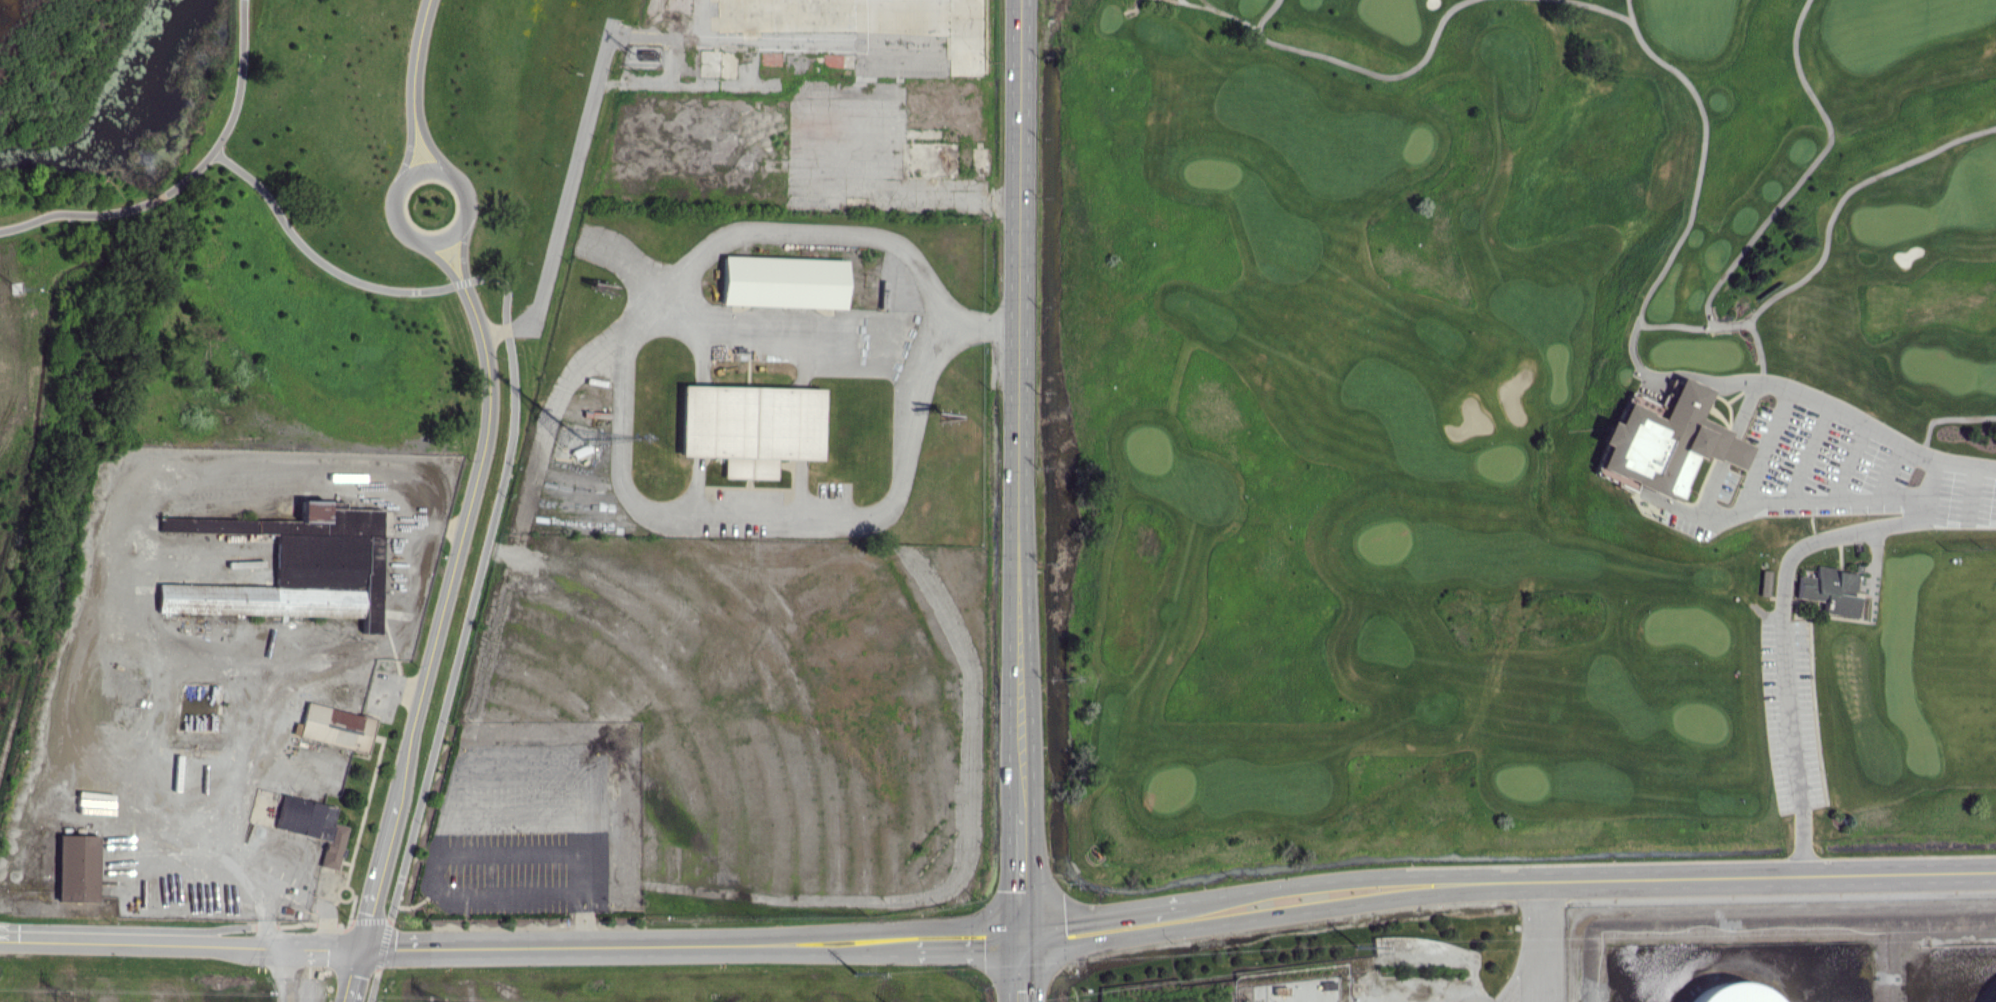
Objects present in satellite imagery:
road: (1198, 4)
road: (1208, 5)
road: (1602, 8)
road: (1235, 17)
road: (414, 50)
road: (1355, 67)
road: (427, 140)
road: (407, 147)
road: (1812, 171)
road: (185, 177)
road: (1843, 189)
road: (566, 196)
road: (441, 239)
road: (1675, 248)
road: (462, 251)
road: (312, 253)
road: (441, 261)
road: (461, 280)
building: (781, 281)
road: (1727, 324)
road: (618, 400)
road: (1022, 406)
road: (1950, 418)
building: (748, 426)
park: (1513, 433)
building: (1665, 443)
road: (1735, 443)
road: (1771, 449)
road: (1815, 454)
road: (1855, 462)
parking lot: (1811, 463)
road: (1899, 472)
road: (1976, 496)
parking lot: (1969, 500)
road: (130, 562)
building: (294, 567)
building: (1769, 583)
road: (474, 585)
building: (1835, 586)
road: (444, 602)
road: (1788, 618)
road: (290, 677)
railway: (19, 696)
parking lot: (1791, 712)
building: (335, 727)
building: (312, 826)
road: (463, 852)
building: (76, 867)
road: (1021, 877)
road: (1590, 884)
road: (305, 897)
road: (369, 918)
road: (307, 921)
road: (129, 927)
road: (1104, 928)
road: (365, 934)
traffic signals: (1021, 940)
road: (965, 943)
road: (180, 944)
road: (1538, 944)
road: (382, 945)
road: (634, 947)
power tower: (1355, 950)
road: (1021, 971)
road: (284, 975)
road: (1519, 975)
road: (354, 976)
road: (371, 987)
building: (1730, 993)
power tower: (63, 999)

